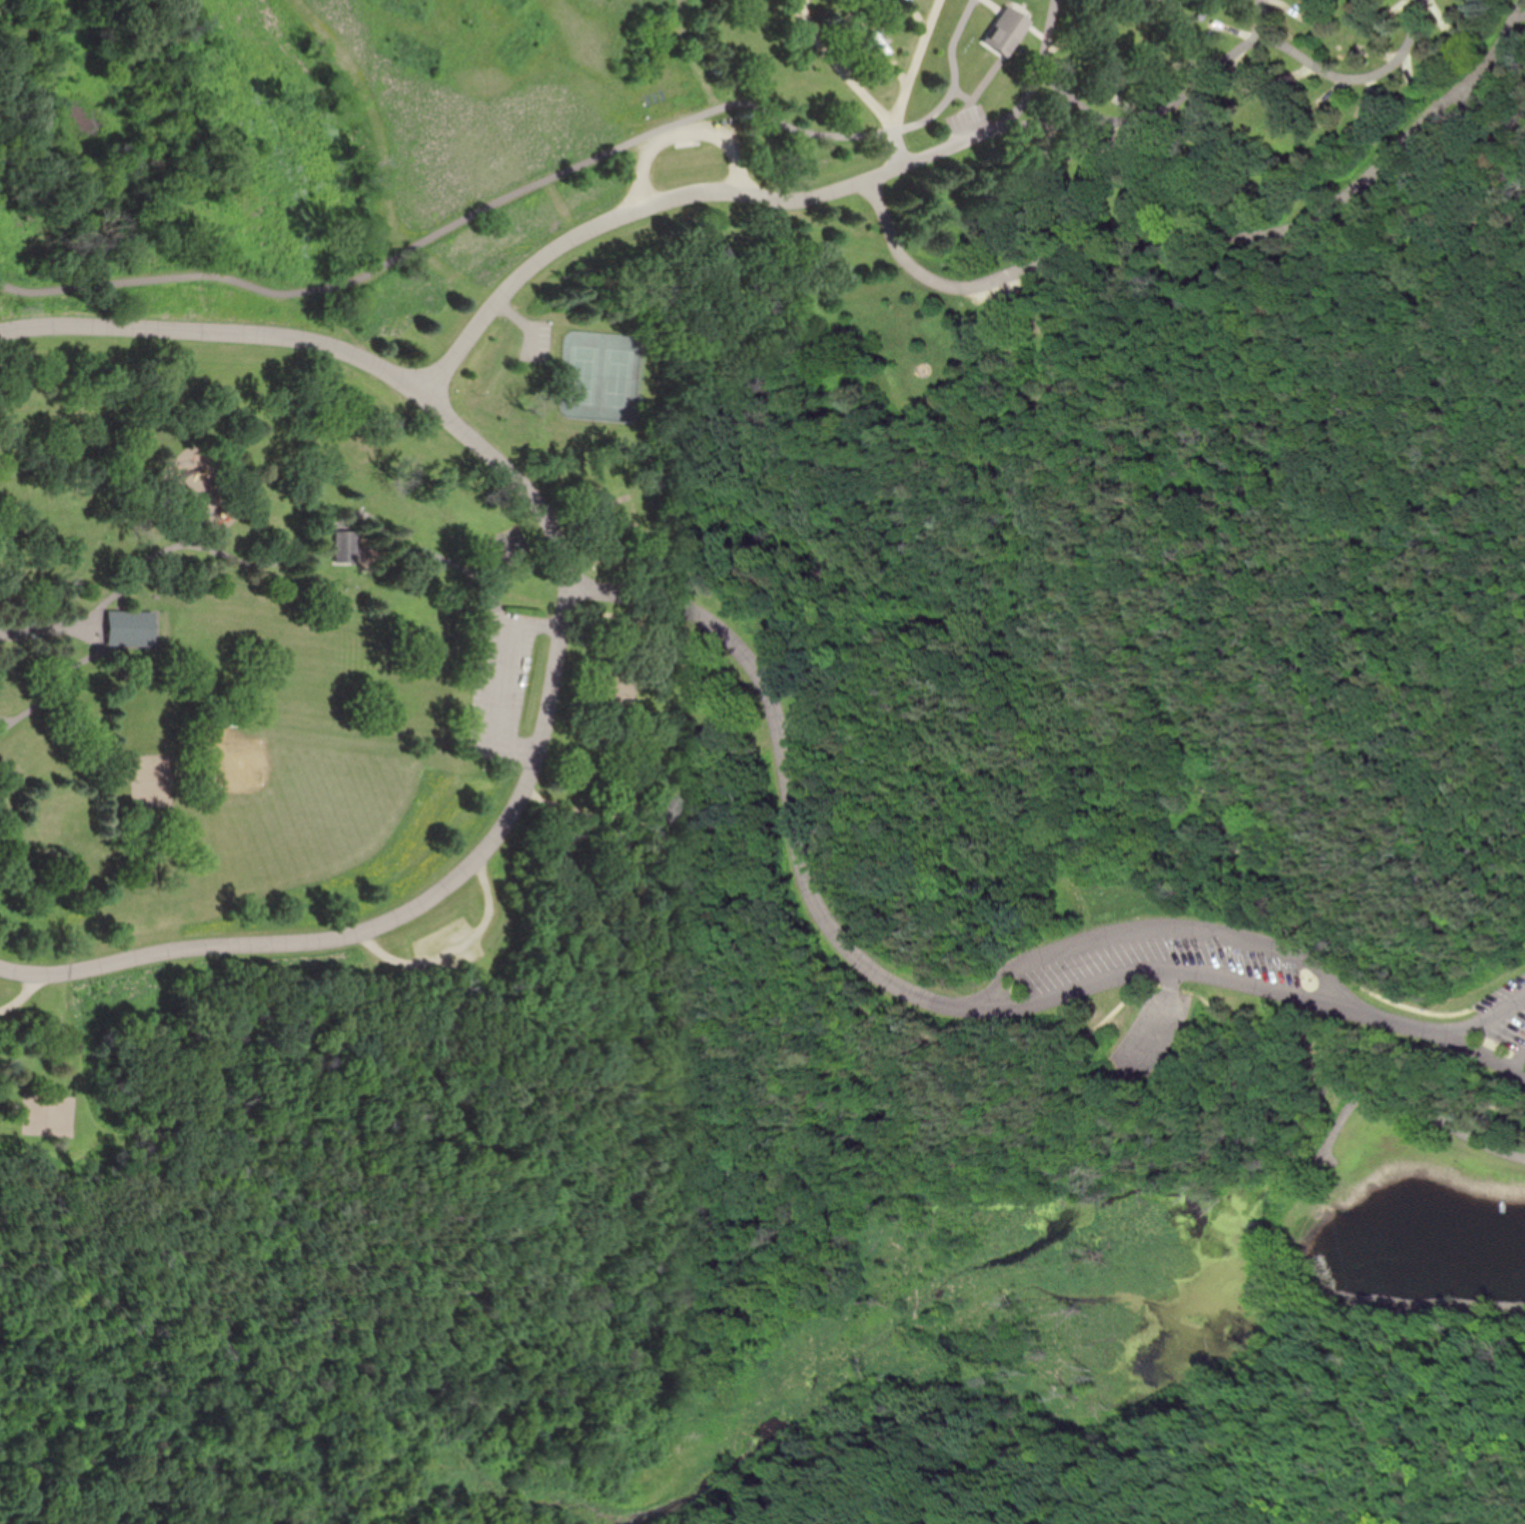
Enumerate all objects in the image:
road: (1514, 9)
road: (1518, 14)
road: (1262, 19)
building: (1007, 33)
road: (1179, 93)
road: (888, 115)
road: (693, 137)
road: (903, 143)
road: (687, 196)
road: (1198, 235)
road: (339, 347)
building: (346, 547)
building: (128, 629)
road: (39, 637)
road: (505, 679)
parking lot: (504, 686)
park: (762, 762)
road: (783, 772)
building: (669, 807)
road: (393, 918)
road: (1155, 932)
road: (462, 956)
road: (1151, 972)
road: (28, 993)
road: (1158, 1013)
road: (1436, 1031)

